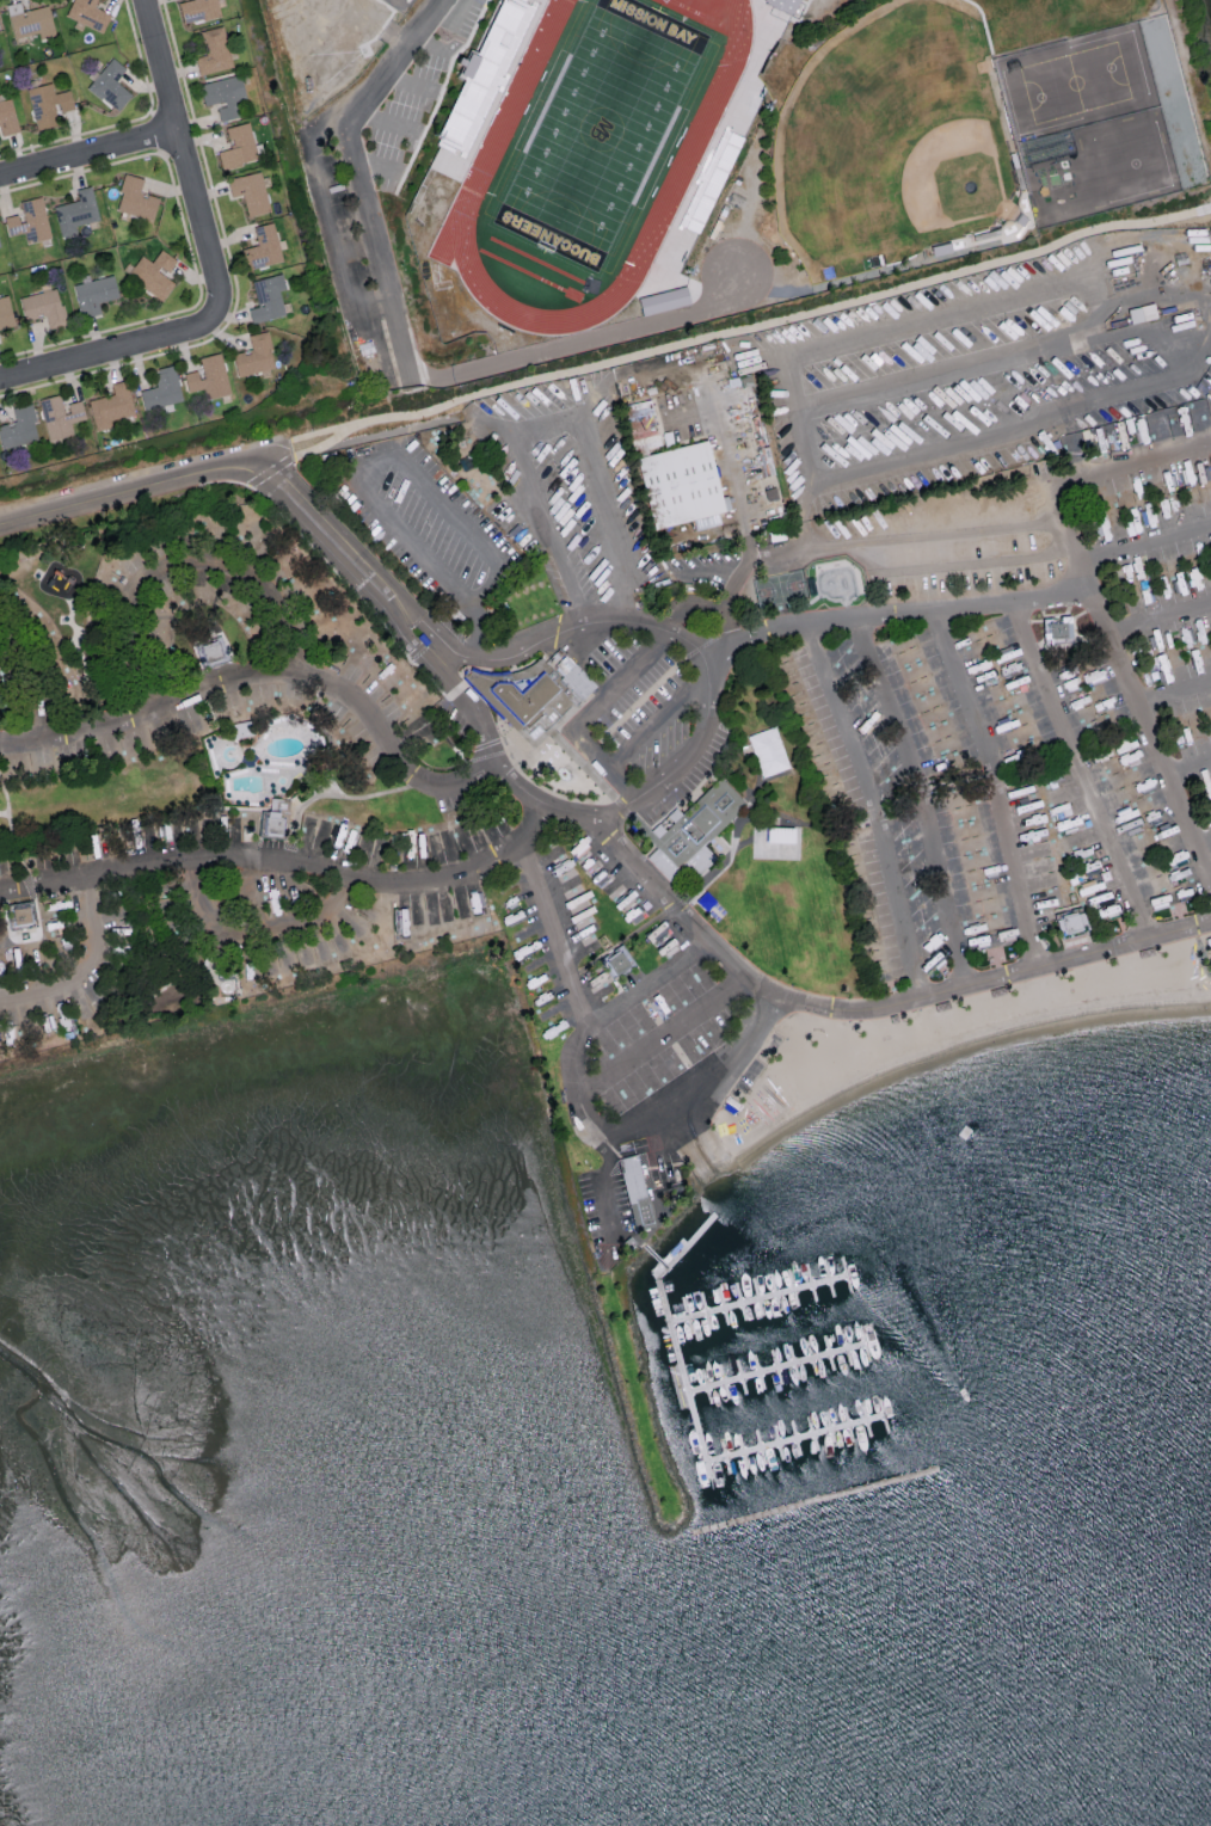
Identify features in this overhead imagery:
building: (399, 2)
building: (787, 5)
building: (197, 10)
road: (806, 11)
building: (87, 14)
parking lot: (466, 17)
park: (1058, 18)
building: (30, 20)
road: (990, 25)
road: (432, 44)
building: (214, 50)
building: (482, 68)
park: (1075, 79)
road: (410, 81)
building: (110, 84)
building: (223, 94)
park: (1173, 102)
building: (48, 104)
parking lot: (411, 115)
building: (7, 117)
road: (389, 122)
park: (605, 131)
park: (893, 139)
building: (239, 146)
track: (506, 146)
road: (88, 155)
track: (596, 156)
road: (185, 161)
road: (376, 165)
park: (1096, 165)
building: (250, 191)
building: (135, 197)
road: (1203, 209)
building: (76, 211)
building: (29, 220)
building: (264, 246)
road: (352, 257)
building: (153, 273)
building: (94, 294)
building: (268, 297)
building: (664, 300)
road: (1098, 302)
building: (43, 306)
building: (5, 312)
building: (1142, 313)
road: (775, 321)
road: (400, 334)
road: (106, 353)
building: (254, 355)
road: (941, 370)
building: (209, 376)
building: (162, 388)
building: (111, 405)
building: (60, 416)
road: (547, 424)
building: (19, 428)
road: (299, 437)
road: (306, 451)
road: (272, 471)
road: (1102, 479)
road: (1058, 480)
building: (681, 485)
road: (125, 490)
road: (369, 493)
road: (955, 531)
road: (1167, 535)
road: (160, 546)
road: (348, 555)
road: (709, 570)
park: (837, 580)
road: (734, 582)
park: (780, 589)
road: (932, 609)
building: (474, 614)
road: (1160, 616)
building: (1058, 628)
road: (571, 633)
building: (211, 651)
road: (37, 672)
road: (269, 676)
road: (1172, 687)
building: (534, 693)
road: (585, 714)
road: (654, 717)
road: (480, 738)
building: (768, 751)
road: (1187, 764)
road: (1077, 771)
road: (991, 783)
road: (921, 795)
road: (872, 803)
building: (271, 823)
building: (694, 828)
road: (1201, 837)
road: (282, 861)
building: (20, 914)
road: (680, 914)
building: (1071, 923)
road: (257, 928)
road: (553, 929)
building: (617, 960)
road: (90, 969)
road: (995, 972)
building: (211, 973)
building: (595, 983)
road: (662, 1037)
road: (597, 1121)
building: (635, 1188)
road: (604, 1193)
pier: (656, 1260)
pier: (761, 1303)
pier: (681, 1361)
pier: (777, 1372)
pier: (798, 1443)
pier: (819, 1501)

